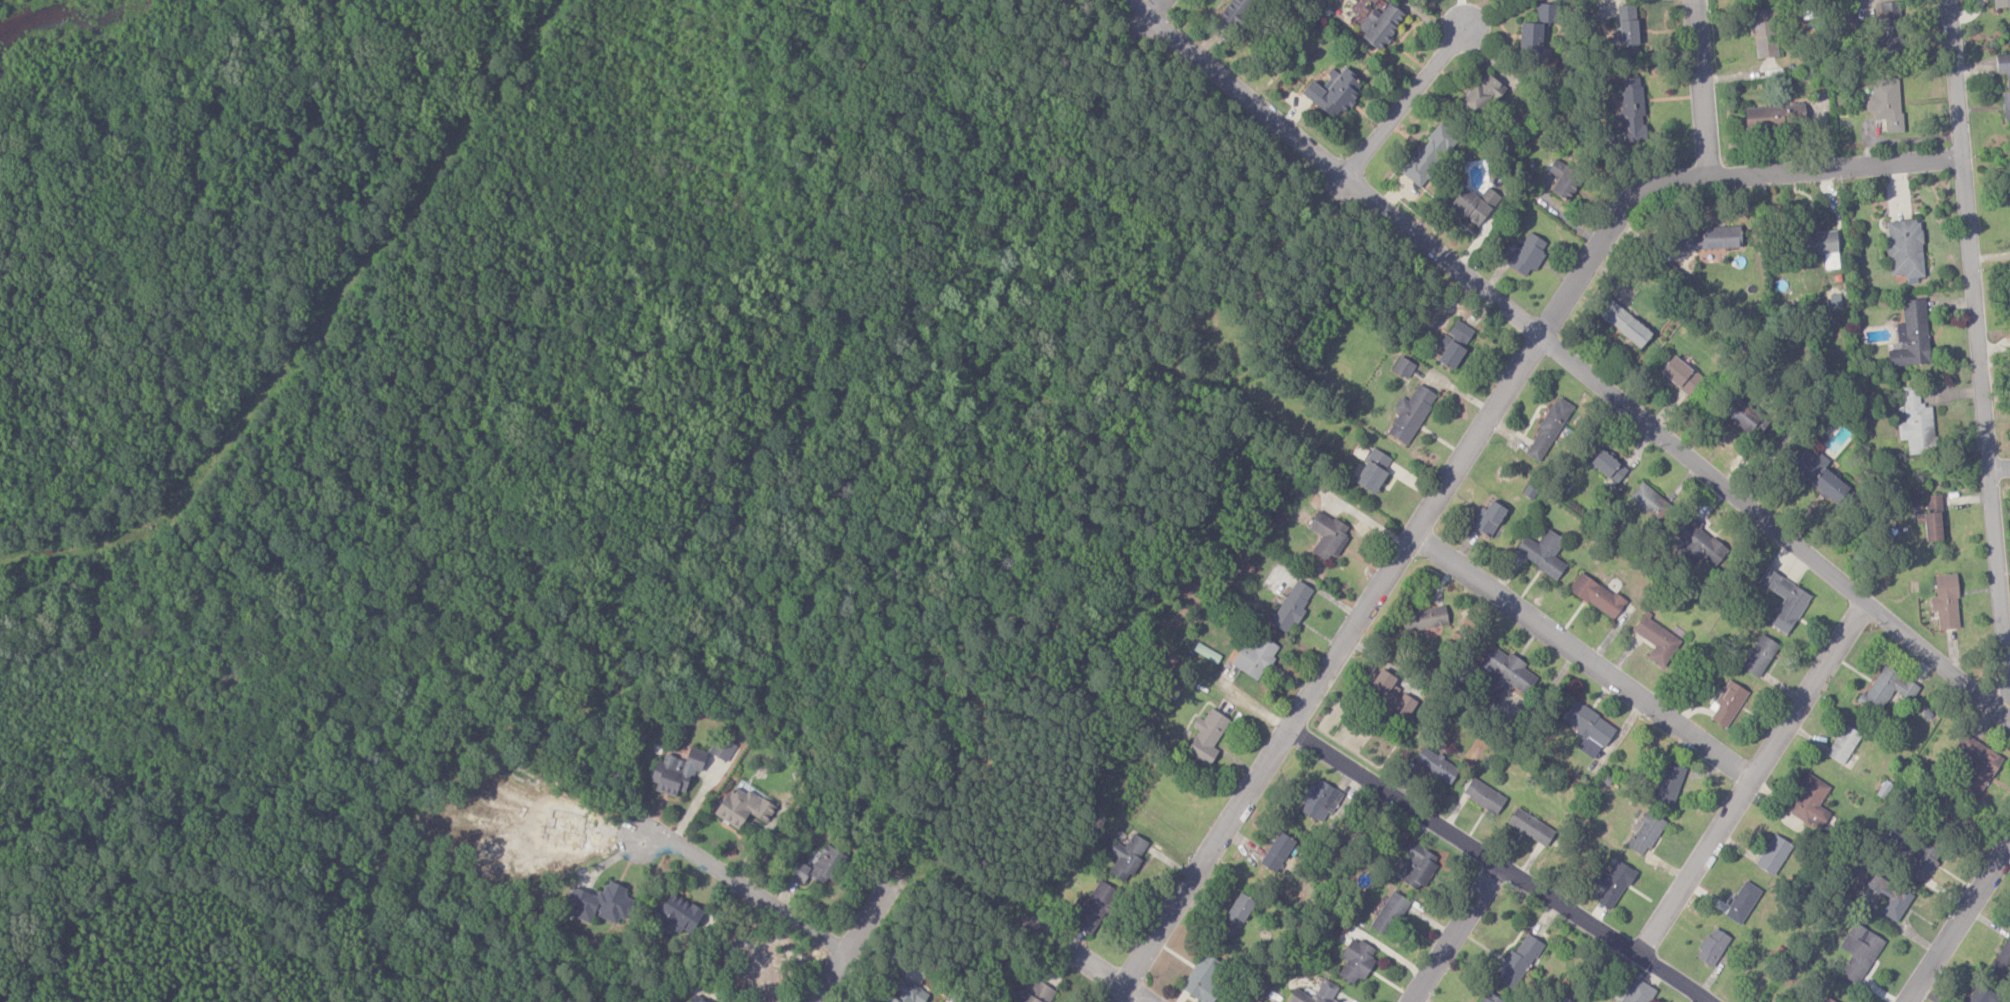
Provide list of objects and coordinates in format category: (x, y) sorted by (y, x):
building: (2001, 3)
road: (1152, 8)
building: (1545, 13)
building: (1887, 17)
building: (1379, 25)
building: (1626, 29)
building: (1763, 33)
building: (1532, 41)
building: (2008, 82)
road: (1701, 89)
building: (1332, 92)
building: (1481, 95)
road: (1408, 97)
building: (1885, 103)
building: (1630, 109)
building: (1774, 117)
building: (1428, 155)
road: (1835, 168)
building: (1563, 180)
building: (2009, 185)
building: (1472, 206)
building: (1710, 239)
building: (1820, 247)
building: (1904, 249)
building: (1524, 254)
building: (1624, 324)
building: (1459, 334)
building: (1911, 336)
building: (1449, 352)
road: (1568, 358)
road: (1980, 358)
building: (1402, 367)
building: (1680, 375)
building: (1410, 414)
building: (1744, 417)
building: (1916, 423)
building: (1548, 429)
building: (1607, 466)
road: (2000, 468)
building: (1372, 471)
building: (1818, 475)
building: (1649, 501)
building: (1488, 519)
building: (1932, 519)
building: (1329, 537)
building: (1700, 544)
building: (1542, 553)
road: (1394, 565)
building: (1596, 596)
building: (1784, 600)
building: (1945, 601)
building: (1291, 606)
building: (1423, 619)
building: (1657, 640)
building: (1206, 653)
road: (1583, 656)
building: (1759, 656)
building: (1254, 657)
building: (1504, 675)
building: (1886, 690)
building: (1389, 696)
building: (1727, 704)
building: (1588, 729)
building: (1206, 737)
building: (1843, 745)
building: (722, 748)
building: (1435, 765)
building: (1977, 767)
building: (675, 770)
road: (1751, 777)
building: (1668, 783)
building: (1483, 796)
building: (1319, 800)
building: (1810, 800)
building: (743, 805)
building: (1530, 826)
building: (1645, 832)
building: (1276, 851)
building: (1773, 853)
building: (1126, 856)
building: (1923, 861)
road: (1500, 862)
building: (1417, 864)
building: (818, 865)
building: (1611, 882)
road: (740, 884)
building: (1889, 895)
building: (1742, 901)
building: (600, 903)
building: (1093, 906)
building: (1389, 913)
building: (676, 914)
building: (1235, 915)
road: (1958, 923)
road: (857, 931)
road: (1459, 934)
building: (1712, 946)
building: (1859, 951)
building: (2003, 958)
building: (1356, 959)
building: (1517, 962)
building: (1202, 978)
building: (1637, 991)
building: (904, 992)
building: (1037, 992)
building: (1314, 993)
road: (1133, 994)
building: (1981, 994)
building: (1490, 998)
building: (695, 999)
building: (1827, 999)

